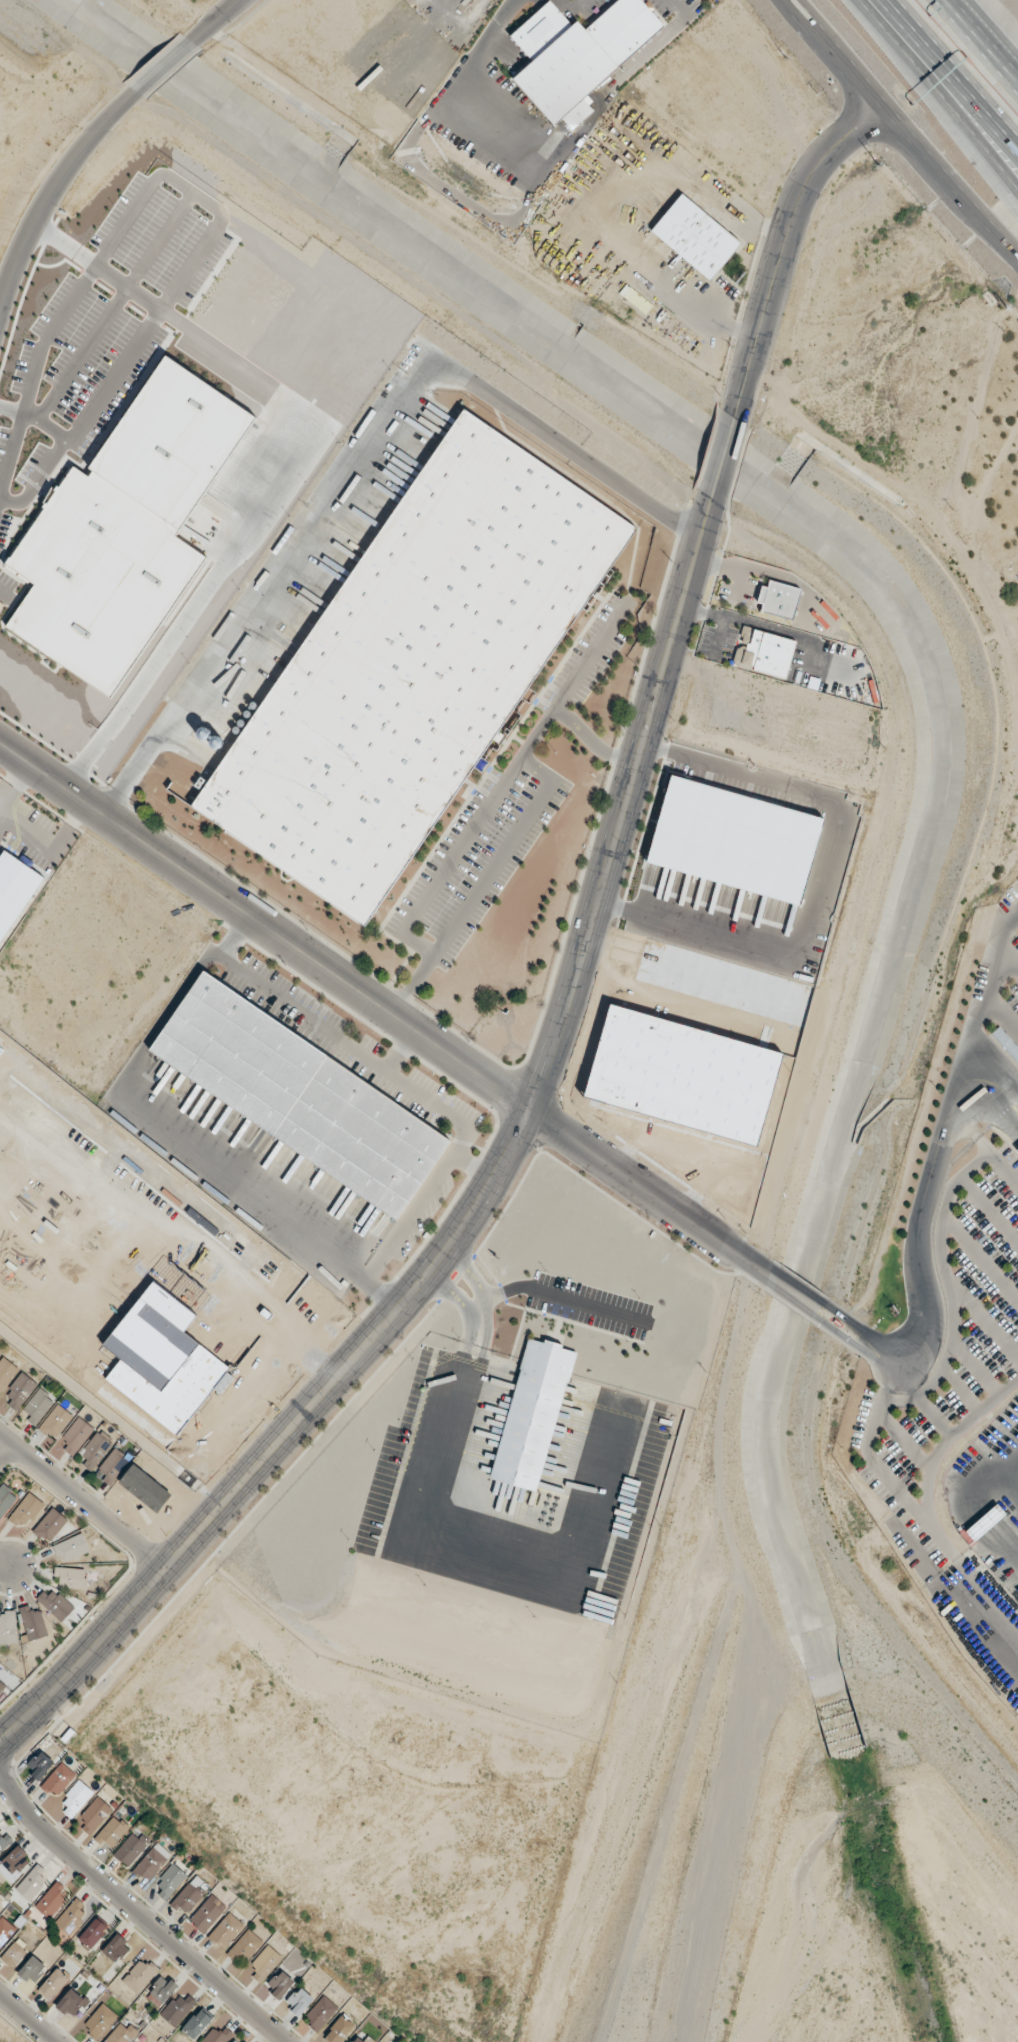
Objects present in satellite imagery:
road: (677, 5)
road: (950, 9)
road: (217, 20)
road: (988, 48)
road: (988, 57)
road: (161, 68)
road: (955, 68)
road: (948, 91)
road: (899, 139)
road: (45, 191)
road: (193, 191)
building: (694, 237)
road: (782, 248)
road: (96, 265)
road: (12, 409)
road: (47, 423)
road: (12, 449)
road: (722, 457)
road: (37, 479)
road: (718, 567)
building: (779, 599)
building: (764, 652)
building: (411, 667)
road: (14, 787)
road: (49, 848)
road: (824, 876)
building: (14, 890)
road: (263, 930)
road: (234, 939)
road: (324, 1030)
road: (398, 1053)
building: (296, 1096)
road: (947, 1142)
building: (1017, 1148)
road: (220, 1164)
road: (484, 1195)
road: (646, 1196)
road: (409, 1218)
road: (373, 1291)
road: (481, 1291)
road: (566, 1298)
road: (461, 1302)
road: (806, 1302)
road: (871, 1349)
building: (6, 1372)
building: (541, 1387)
building: (18, 1392)
building: (36, 1407)
building: (55, 1422)
building: (74, 1437)
road: (7, 1453)
building: (102, 1459)
building: (6, 1499)
road: (82, 1500)
road: (915, 1504)
building: (25, 1511)
building: (49, 1525)
building: (71, 1548)
road: (493, 1550)
road: (4, 1563)
building: (70, 1578)
building: (55, 1604)
building: (32, 1623)
building: (7, 1627)
building: (2, 1688)
building: (39, 1765)
building: (58, 1780)
building: (75, 1799)
building: (93, 1815)
building: (111, 1832)
building: (4, 1841)
building: (130, 1848)
building: (14, 1863)
building: (151, 1863)
building: (169, 1882)
building: (32, 1883)
building: (187, 1897)
building: (51, 1899)
road: (131, 1911)
building: (207, 1914)
building: (71, 1917)
building: (5, 1931)
building: (225, 1931)
building: (92, 1933)
building: (244, 1947)
building: (116, 1948)
building: (13, 1955)
building: (265, 1963)
building: (32, 1970)
building: (139, 1975)
building: (52, 1984)
building: (280, 1985)
building: (161, 1990)
building: (298, 2002)
building: (70, 2003)
building: (177, 2009)
building: (320, 2014)
road: (30, 2016)
building: (99, 2022)
building: (196, 2024)
building: (338, 2030)
building: (122, 2033)
building: (356, 2039)

